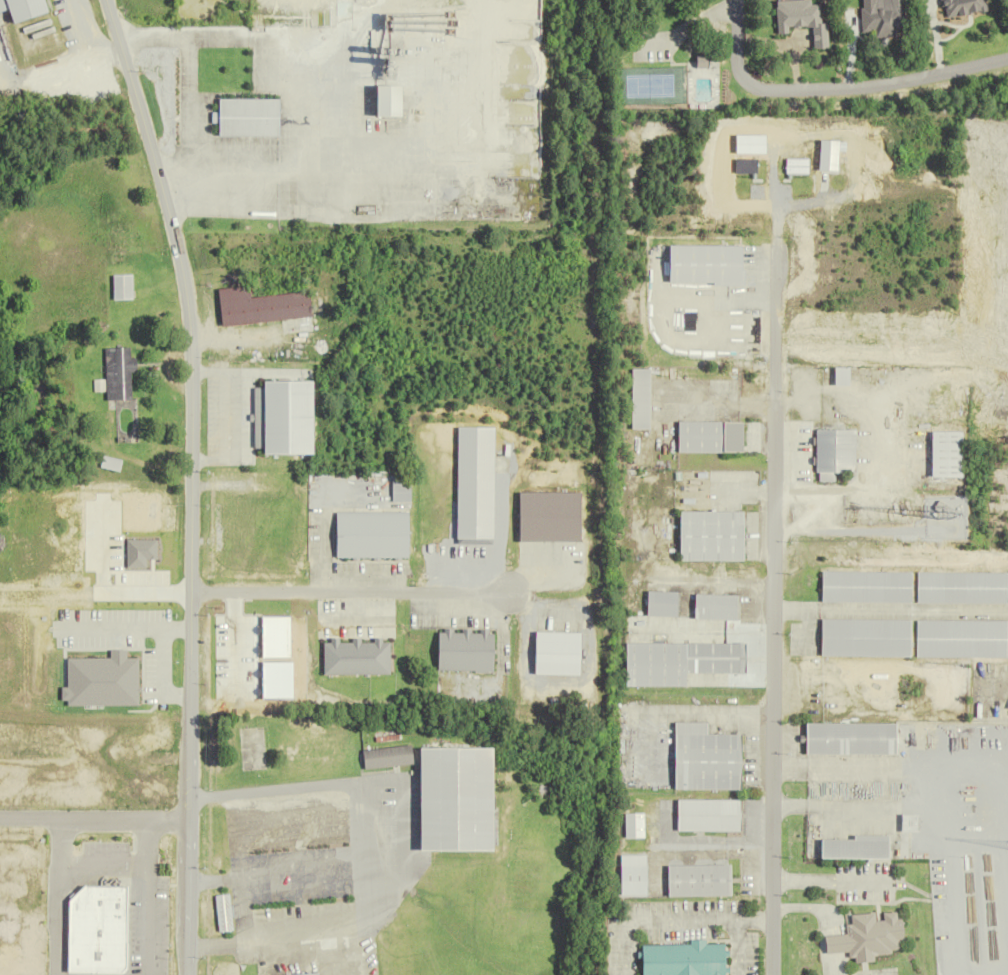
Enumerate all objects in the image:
building: (963, 8)
building: (27, 9)
building: (884, 19)
building: (805, 20)
road: (836, 87)
building: (393, 102)
building: (251, 118)
building: (705, 266)
building: (123, 287)
building: (264, 307)
building: (116, 375)
building: (843, 377)
building: (641, 399)
building: (287, 419)
building: (711, 437)
building: (835, 453)
building: (948, 455)
road: (190, 482)
building: (474, 483)
building: (550, 517)
building: (372, 535)
building: (713, 537)
road: (347, 585)
road: (100, 586)
building: (866, 587)
building: (961, 588)
road: (773, 589)
building: (662, 604)
building: (717, 608)
building: (866, 638)
building: (961, 639)
building: (467, 650)
building: (355, 657)
building: (681, 663)
building: (852, 740)
building: (126, 743)
building: (388, 757)
building: (708, 759)
building: (460, 799)
road: (94, 812)
building: (710, 815)
building: (858, 848)
building: (635, 874)
building: (38, 880)
building: (702, 880)
road: (56, 893)
road: (146, 893)
building: (224, 913)
building: (101, 918)
road: (295, 924)
building: (869, 937)
building: (687, 959)
building: (310, 974)

